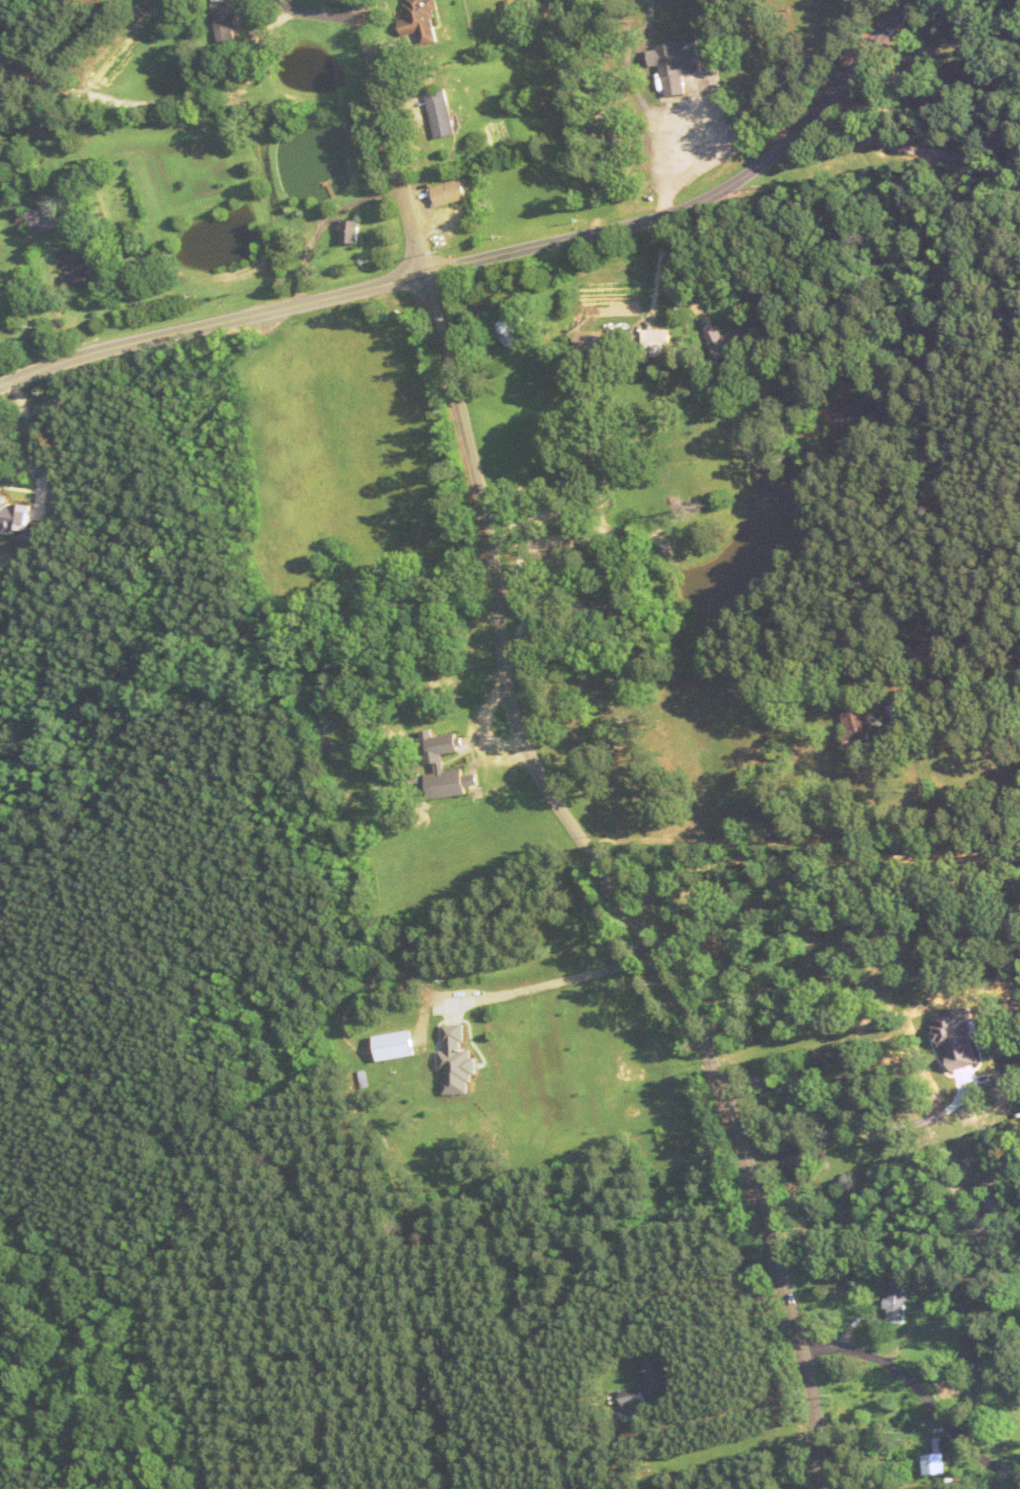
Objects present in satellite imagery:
park: (614, 3)
road: (315, 14)
building: (422, 21)
building: (225, 22)
building: (676, 62)
building: (442, 114)
road: (918, 149)
building: (451, 193)
road: (704, 197)
building: (42, 218)
building: (351, 230)
building: (75, 268)
road: (210, 324)
building: (508, 331)
building: (721, 339)
building: (655, 345)
building: (584, 349)
building: (572, 478)
building: (853, 726)
road: (537, 765)
building: (445, 767)
road: (805, 856)
building: (1012, 1064)
road: (830, 1117)
building: (898, 1303)
building: (983, 1344)
building: (654, 1381)
building: (977, 1397)
road: (921, 1398)
building: (935, 1459)

